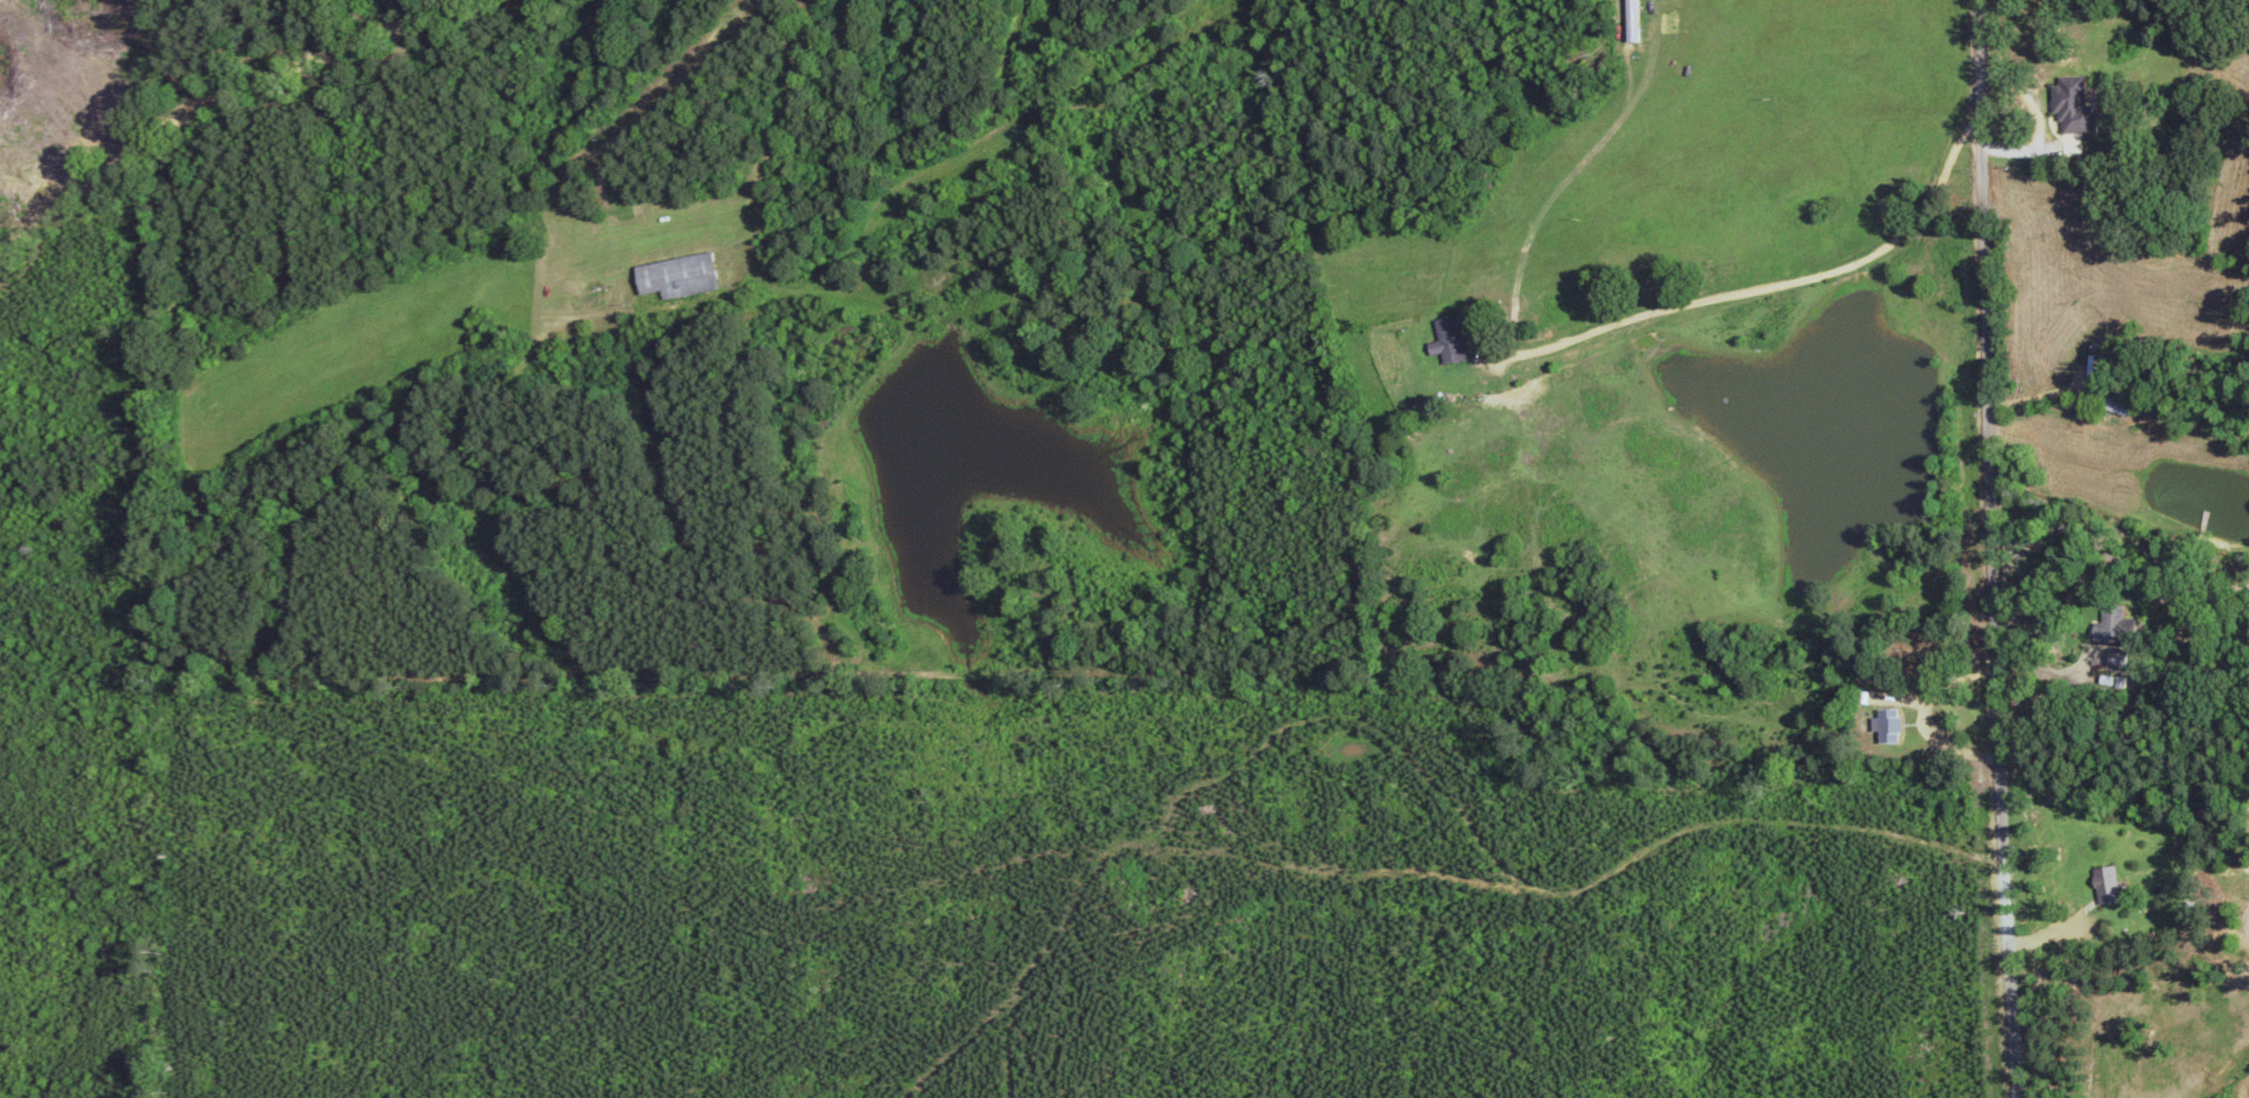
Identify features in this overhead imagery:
building: (2072, 107)
road: (237, 110)
building: (668, 279)
building: (1445, 342)
building: (2112, 406)
road: (2002, 548)
building: (2103, 885)

